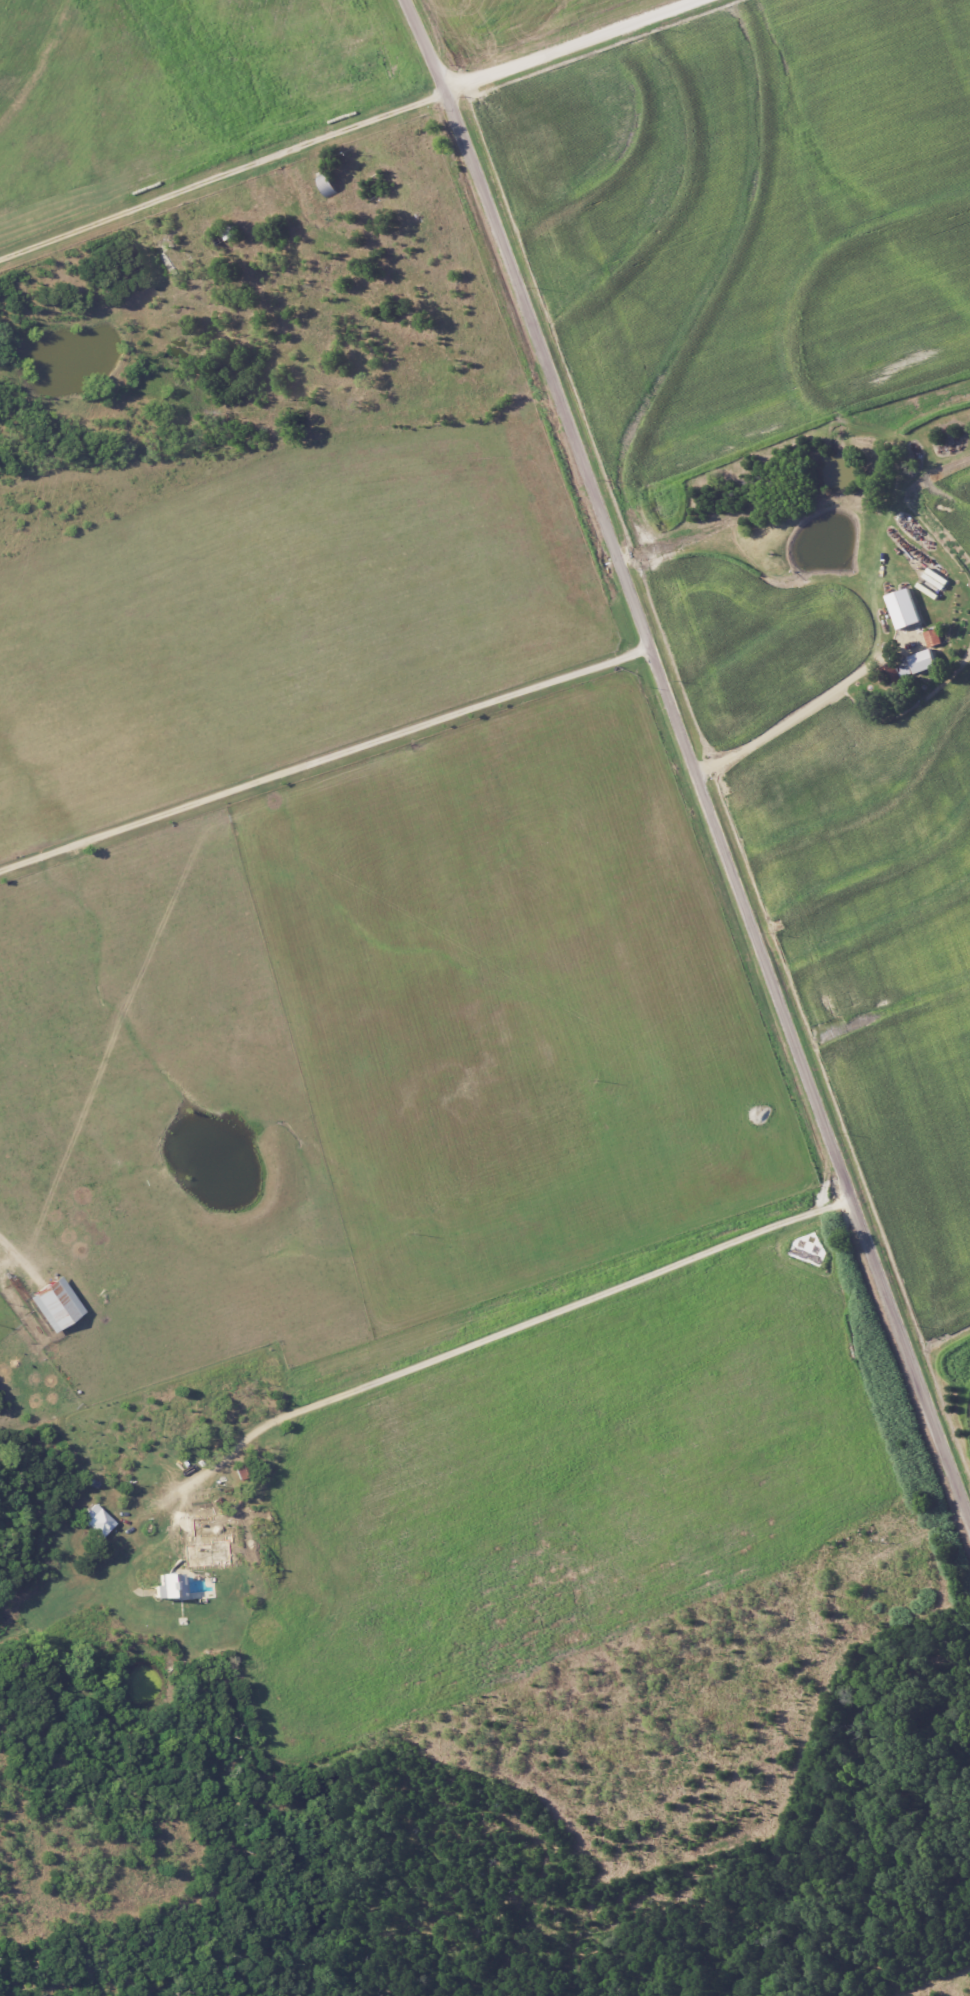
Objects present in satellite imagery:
road: (572, 43)
road: (224, 185)
building: (903, 608)
building: (933, 637)
building: (923, 660)
road: (781, 724)
road: (691, 758)
road: (325, 759)
building: (55, 1304)
road: (508, 1332)
building: (97, 1521)
building: (167, 1585)

